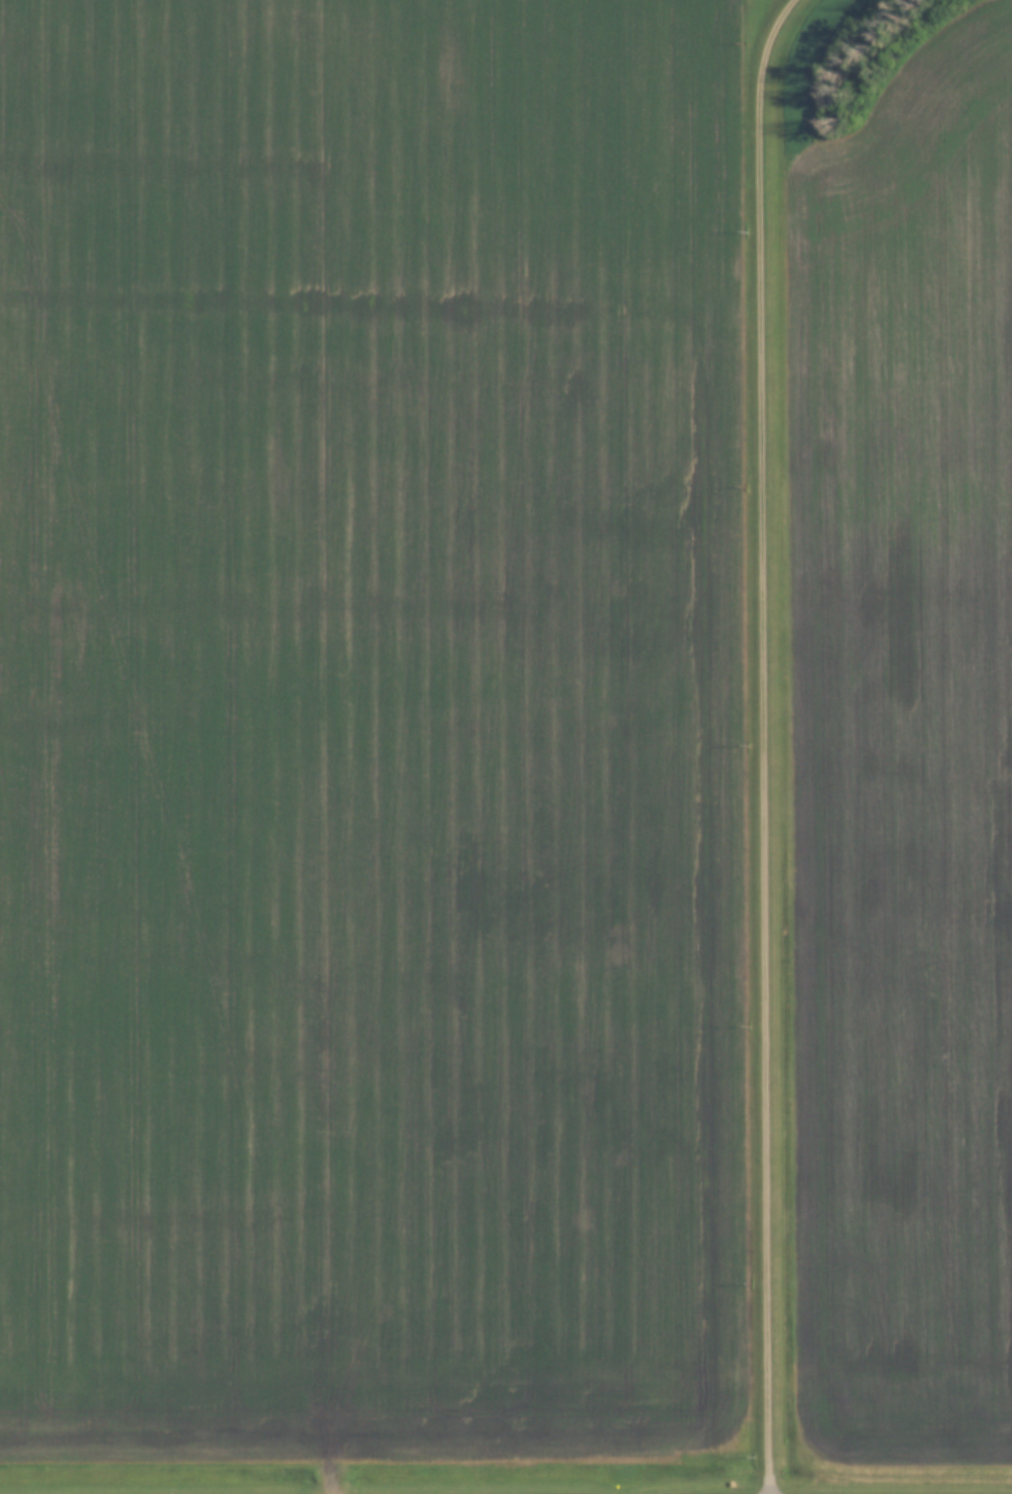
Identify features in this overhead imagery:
road: (766, 742)

